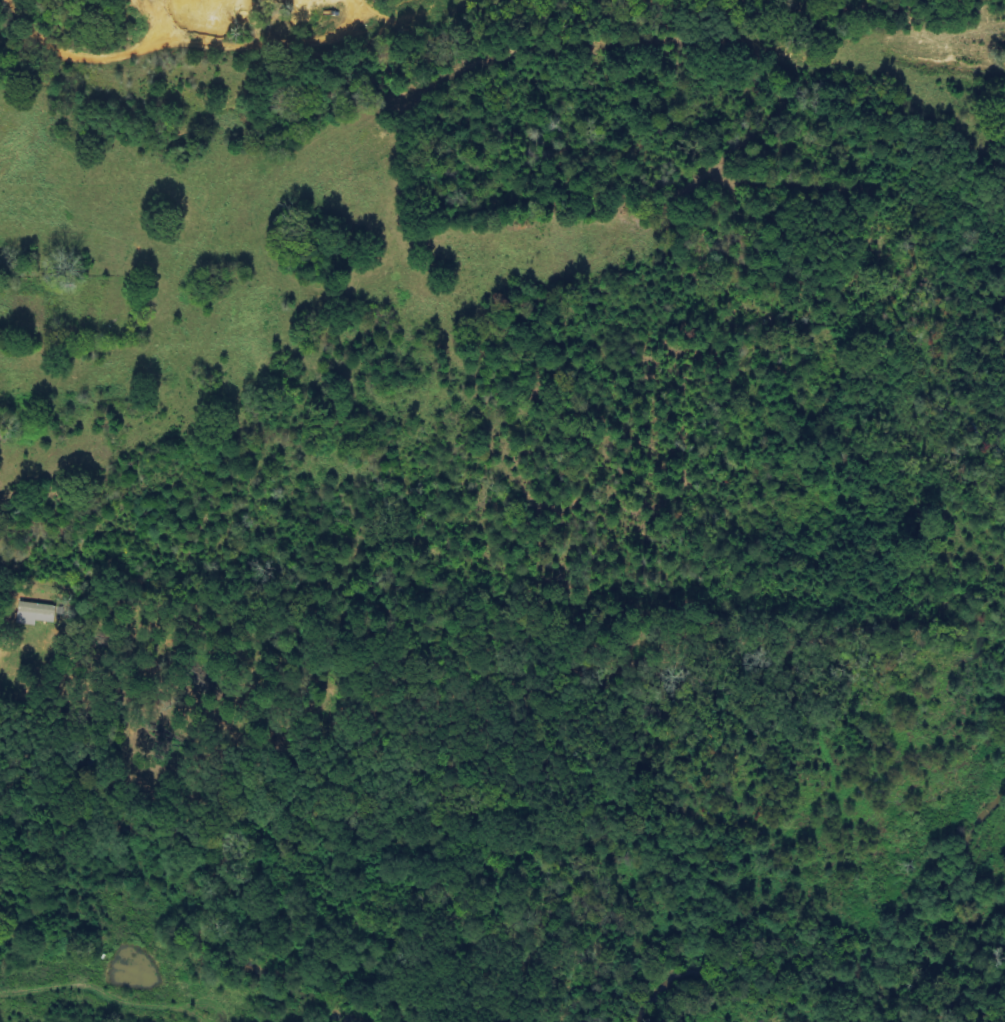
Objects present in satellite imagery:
building: (33, 614)

